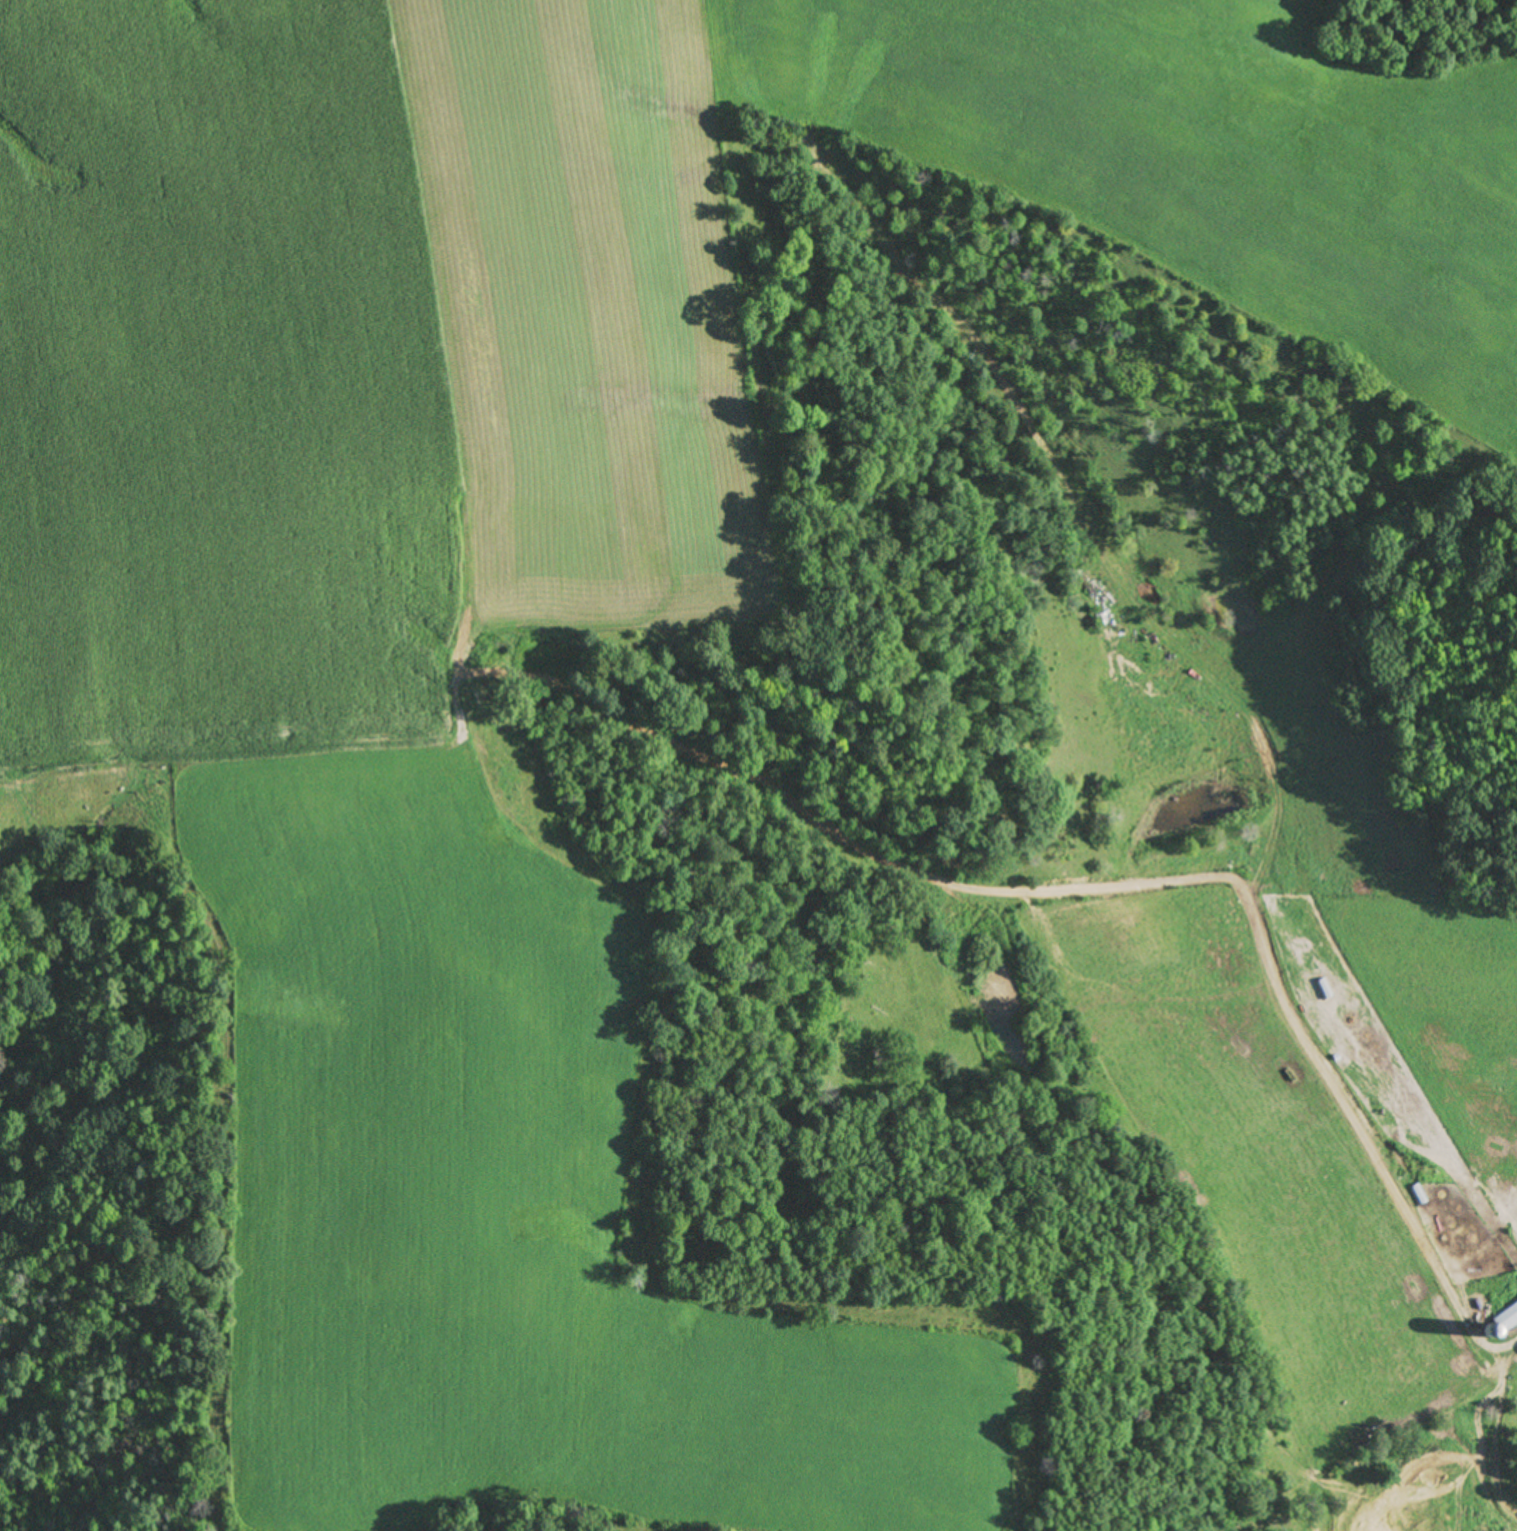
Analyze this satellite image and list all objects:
building: (1325, 988)
building: (1418, 1193)
building: (1507, 1319)
road: (1496, 1344)

